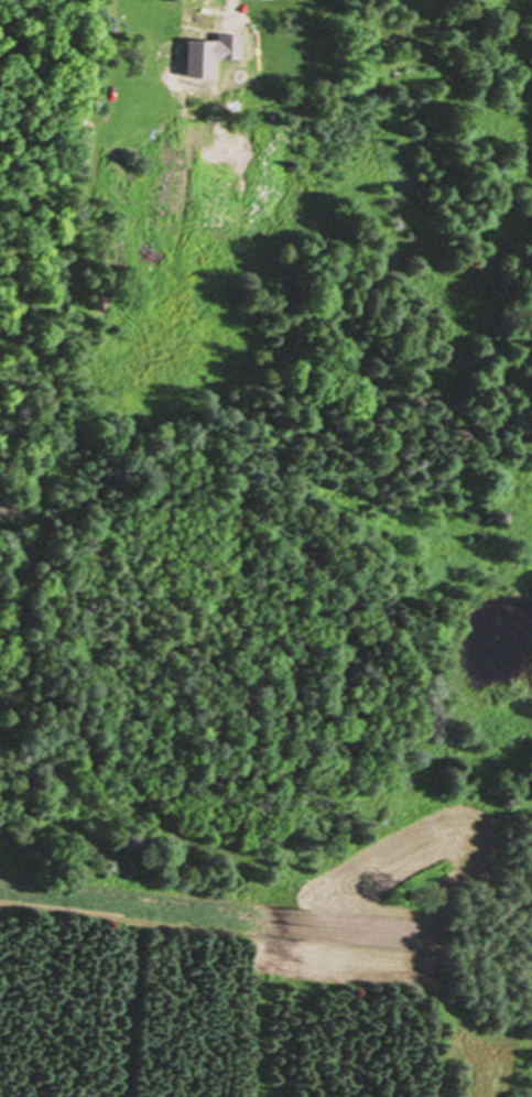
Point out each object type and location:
building: (200, 18)

